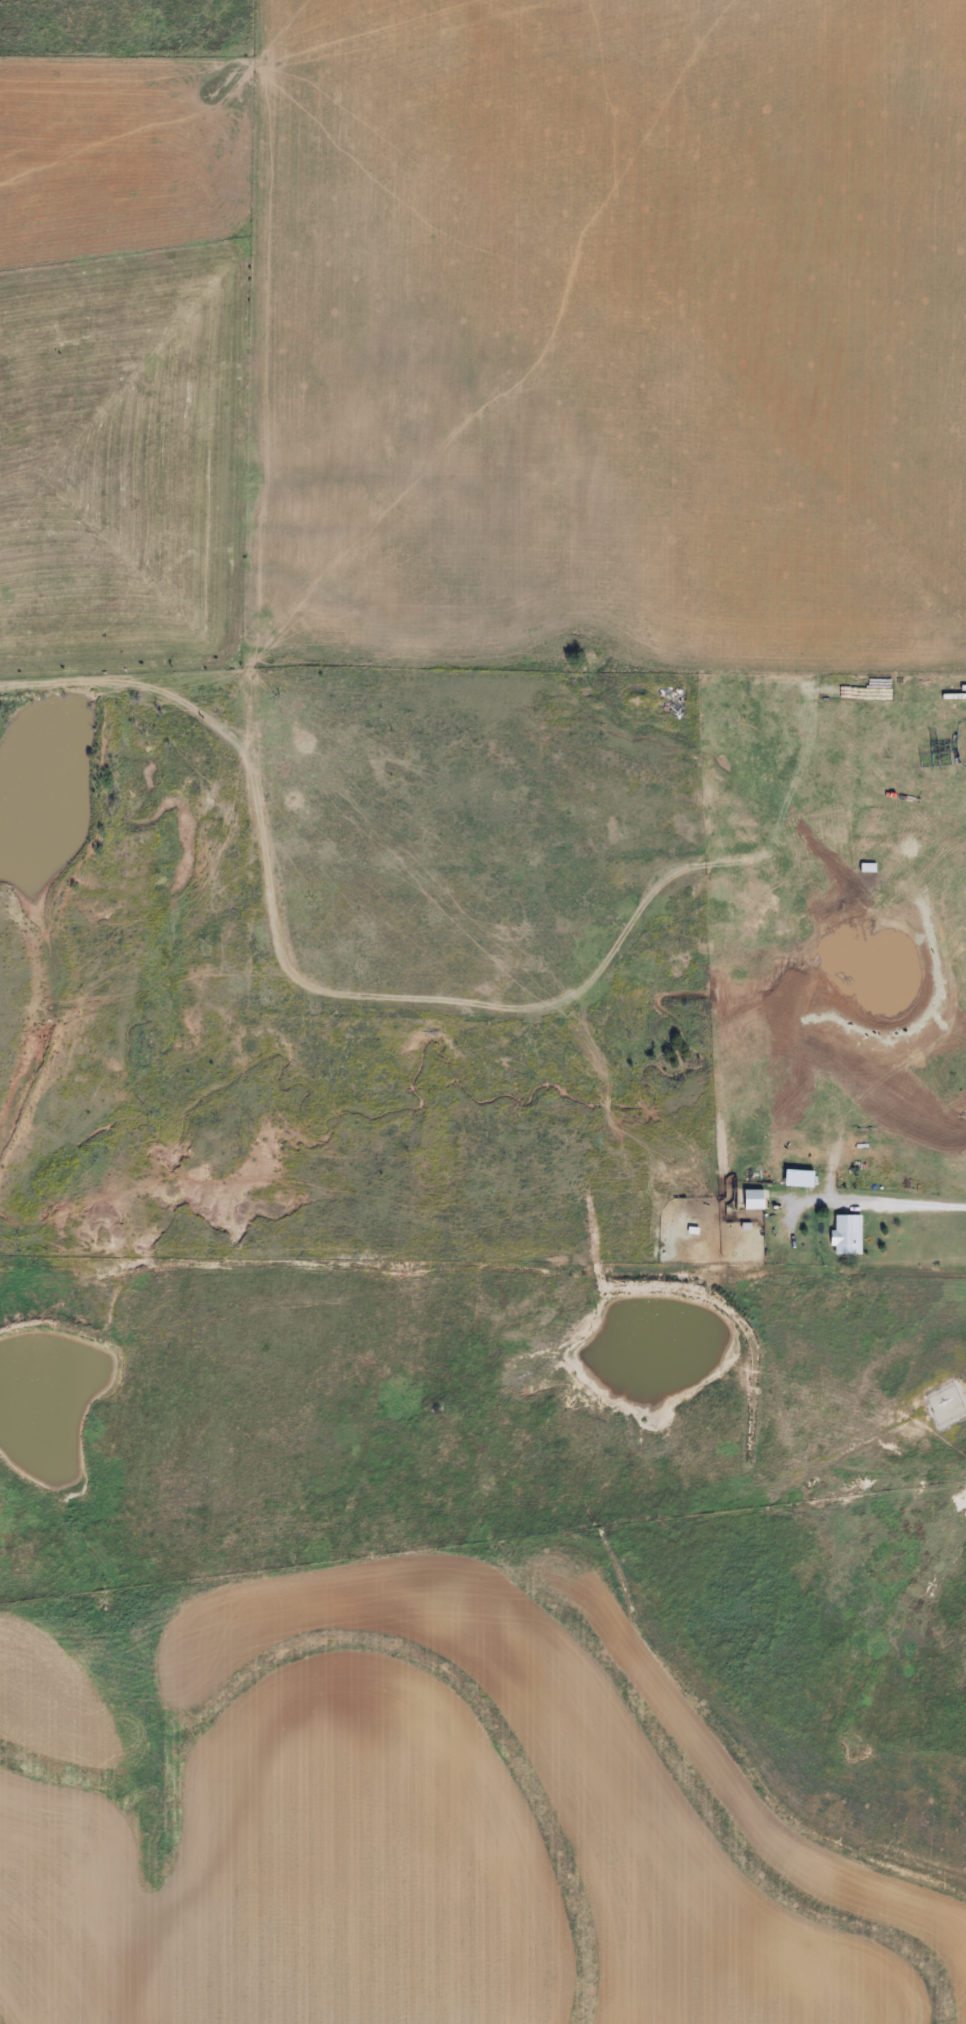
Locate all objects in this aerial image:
building: (749, 1199)
building: (844, 1235)

